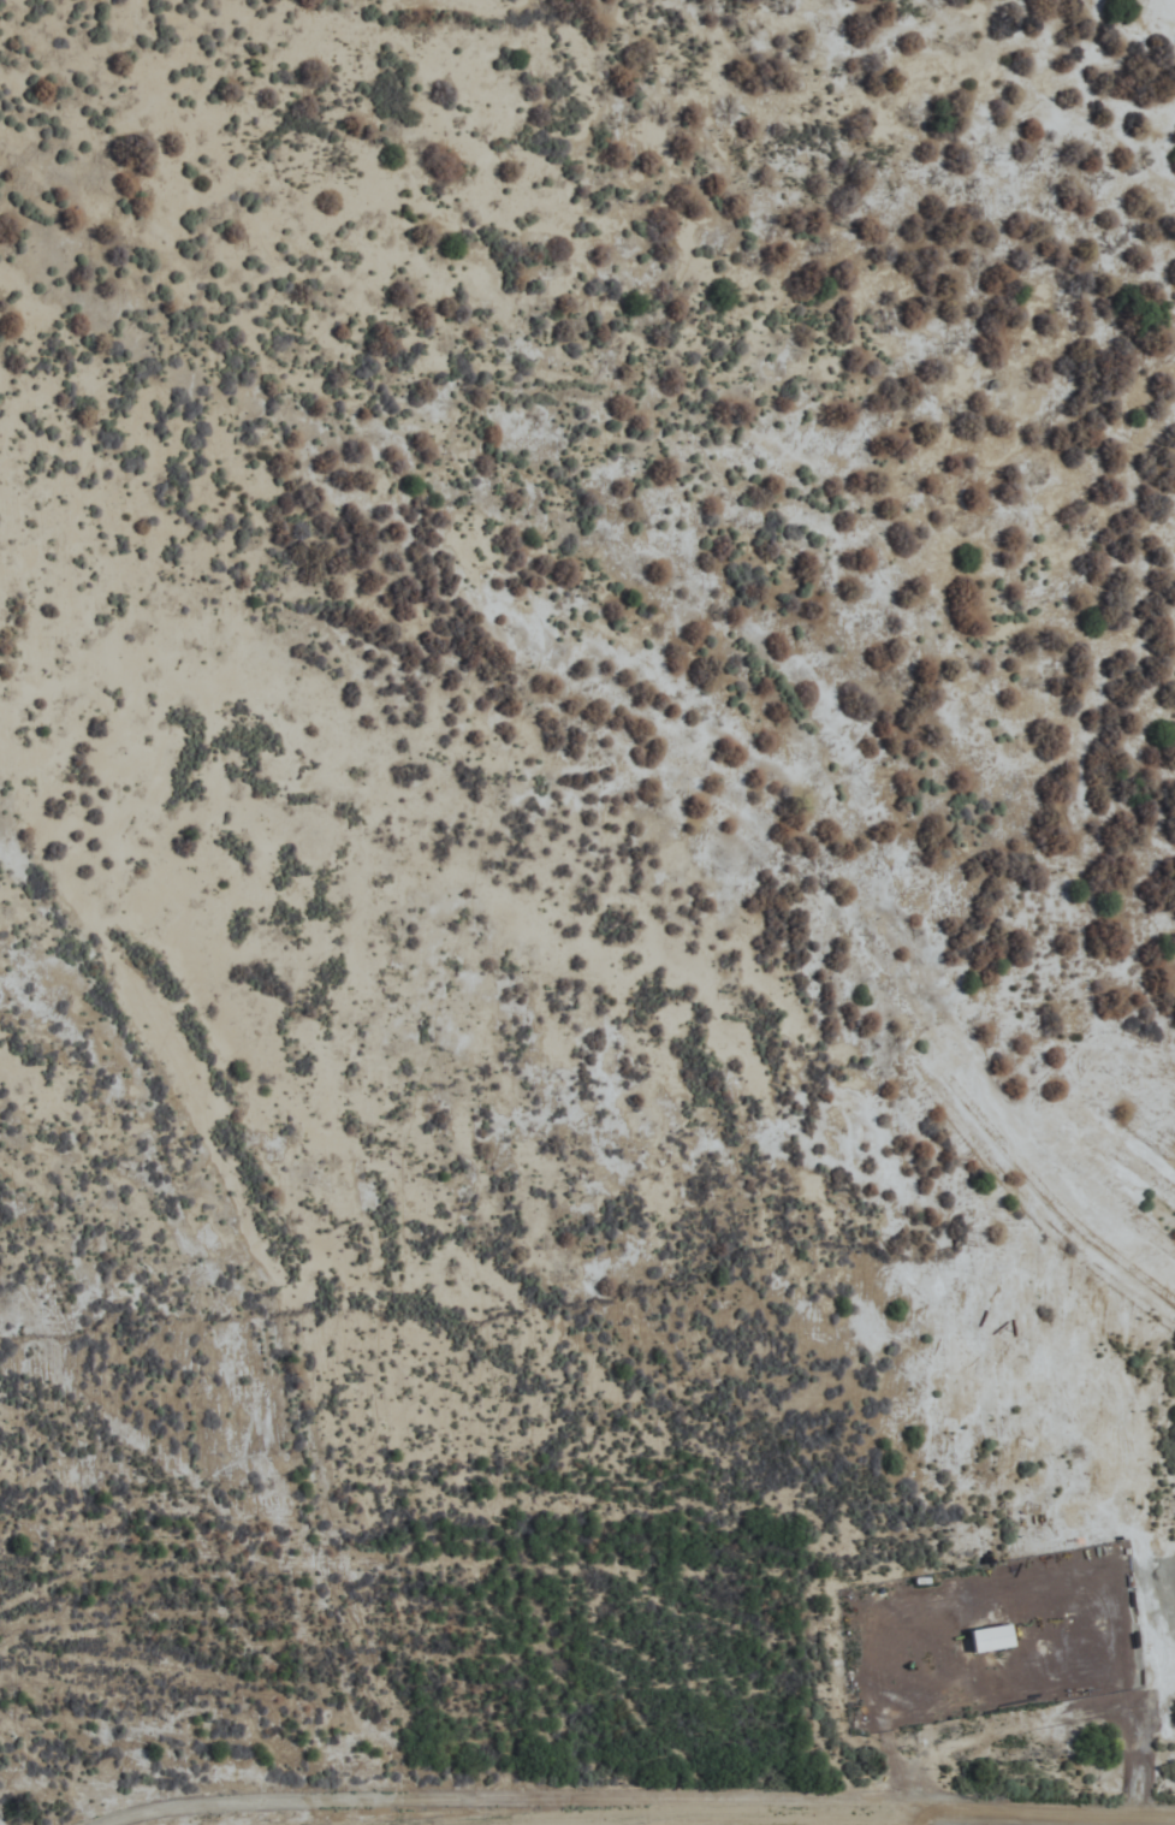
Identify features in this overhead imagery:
building: (995, 1641)
road: (907, 1819)

